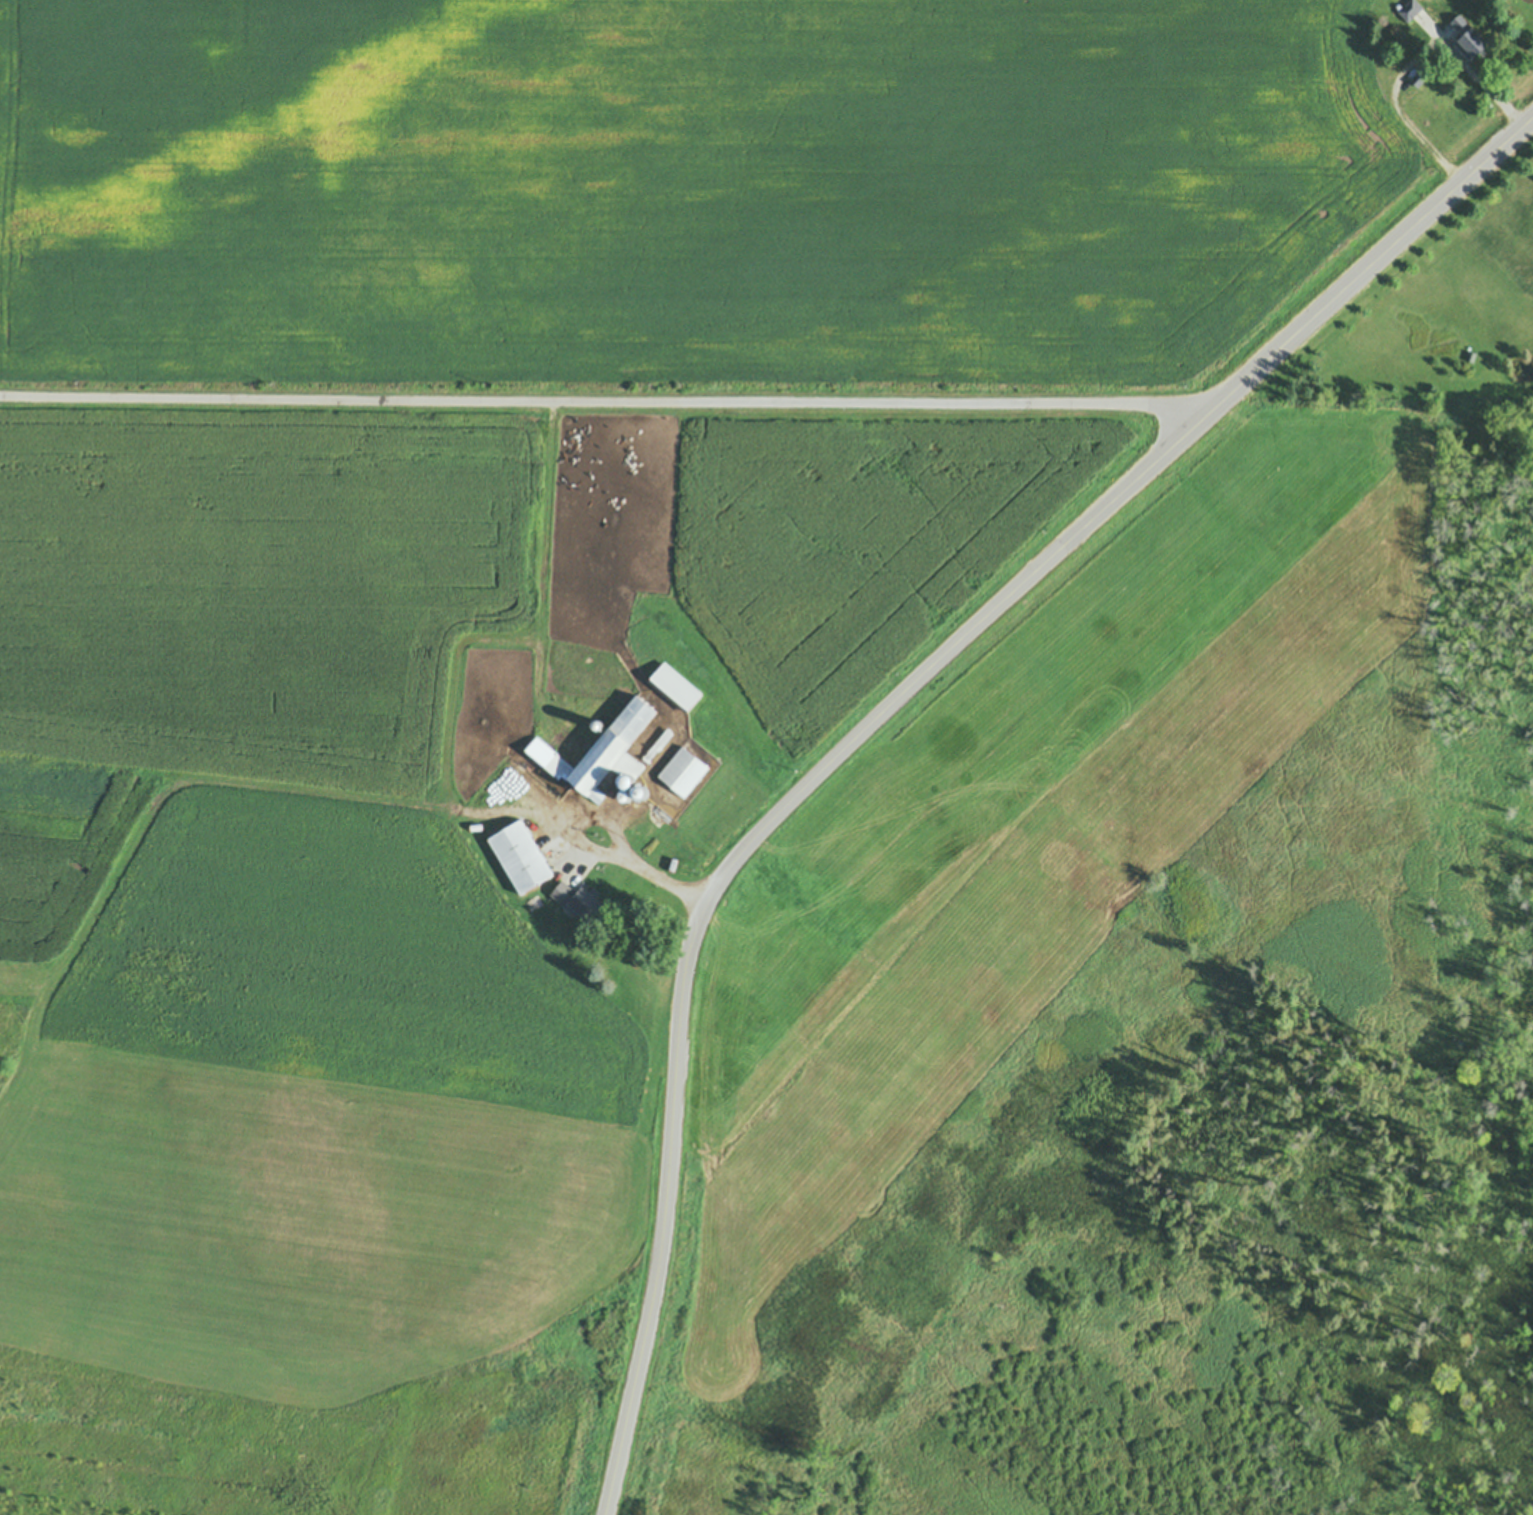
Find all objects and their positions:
building: (1411, 8)
building: (1469, 34)
road: (1406, 56)
building: (1421, 74)
crop: (680, 186)
road: (1366, 270)
building: (1472, 354)
road: (603, 402)
building: (675, 687)
crop: (430, 688)
building: (596, 725)
building: (664, 739)
building: (616, 749)
building: (540, 750)
building: (558, 766)
building: (684, 771)
building: (621, 779)
building: (640, 789)
building: (625, 794)
building: (545, 806)
building: (522, 856)
road: (636, 860)
road: (730, 876)
building: (578, 900)
building: (553, 935)

